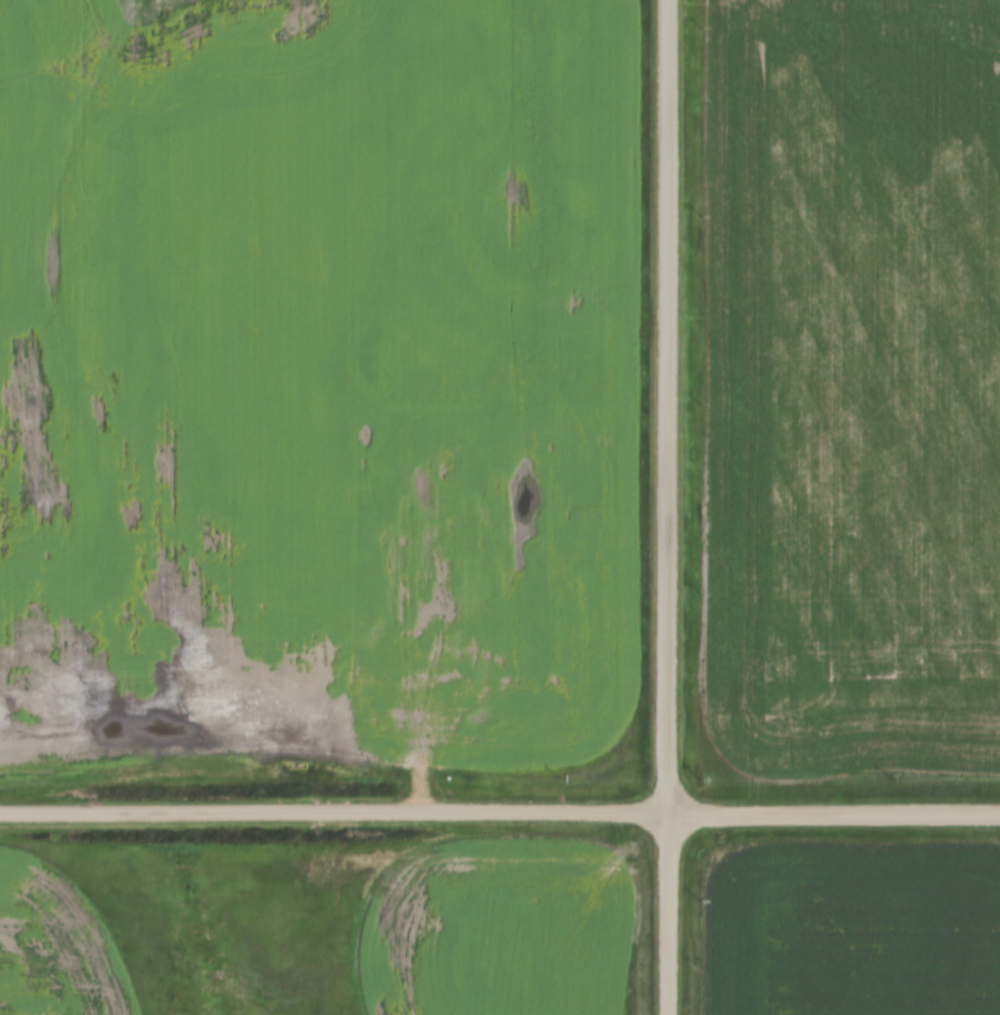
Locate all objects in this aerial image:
road: (665, 405)
road: (424, 675)
road: (499, 811)
road: (665, 913)

